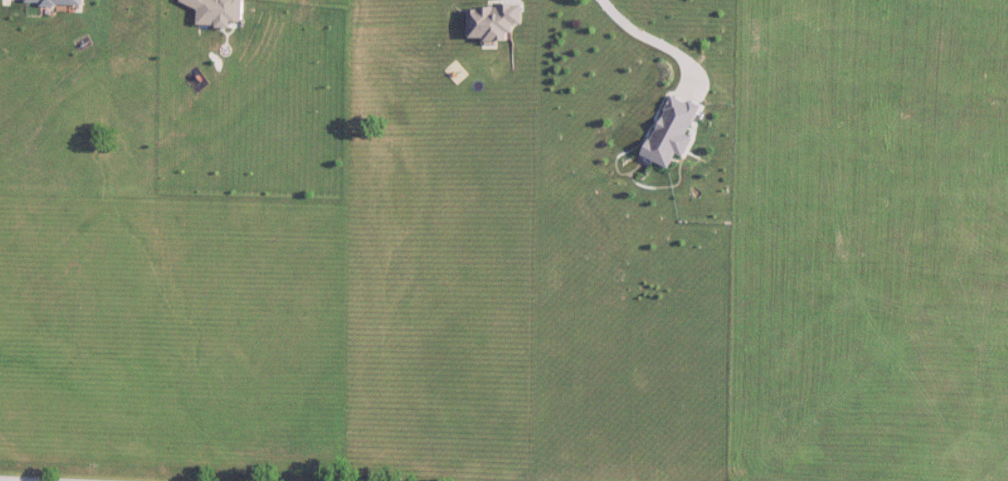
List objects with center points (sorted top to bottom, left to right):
road: (654, 41)
road: (20, 480)

